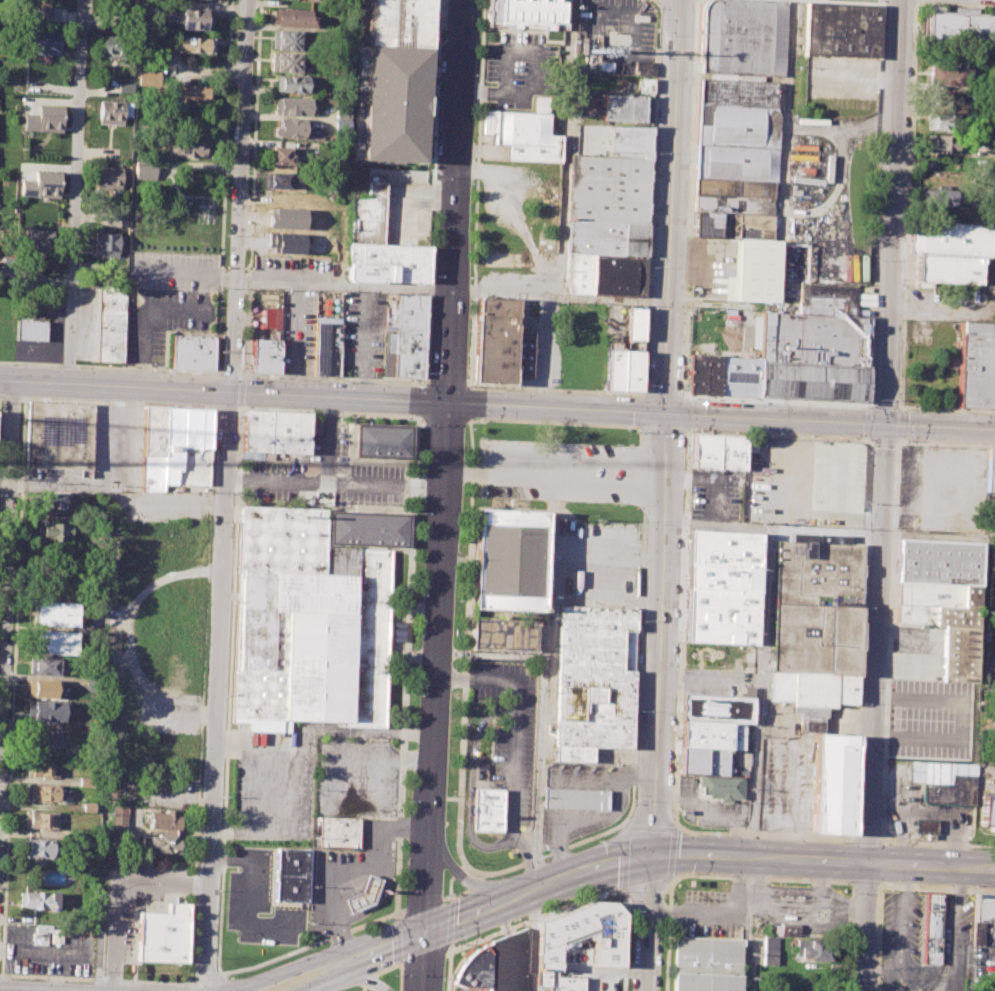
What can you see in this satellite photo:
road: (659, 1)
road: (883, 3)
road: (900, 3)
road: (955, 4)
building: (527, 14)
building: (194, 18)
building: (294, 18)
building: (398, 20)
building: (960, 23)
building: (842, 29)
road: (633, 33)
street lamp: (659, 34)
building: (743, 36)
street lamp: (87, 38)
street lamp: (256, 38)
building: (287, 40)
building: (48, 42)
building: (114, 44)
building: (194, 44)
building: (287, 61)
building: (643, 66)
street lamp: (439, 71)
building: (947, 74)
street lamp: (474, 75)
parking lot: (842, 76)
building: (149, 80)
building: (292, 84)
building: (627, 87)
building: (188, 92)
building: (954, 100)
building: (394, 103)
building: (294, 106)
street lamp: (229, 109)
building: (341, 110)
building: (622, 111)
building: (110, 113)
street lamp: (84, 115)
building: (43, 118)
road: (785, 118)
building: (941, 121)
building: (341, 127)
building: (292, 128)
building: (738, 130)
building: (521, 136)
building: (625, 142)
building: (938, 143)
building: (186, 144)
road: (564, 148)
building: (492, 150)
street lamp: (655, 152)
building: (286, 155)
street lamp: (251, 160)
street lamp: (439, 177)
road: (876, 177)
building: (108, 178)
building: (281, 179)
street lamp: (471, 183)
building: (41, 184)
building: (605, 190)
road: (75, 192)
road: (432, 192)
road: (475, 193)
building: (945, 196)
road: (691, 197)
road: (651, 198)
street lamp: (80, 200)
road: (455, 201)
road: (908, 204)
road: (671, 206)
building: (733, 209)
street lamp: (226, 212)
road: (893, 212)
building: (367, 215)
building: (117, 216)
building: (950, 238)
building: (604, 239)
building: (40, 241)
building: (110, 244)
street lamp: (876, 259)
building: (5, 263)
building: (387, 263)
street lamp: (651, 267)
building: (947, 268)
building: (754, 272)
street lamp: (432, 275)
building: (603, 276)
street lamp: (78, 277)
street lamp: (469, 277)
building: (28, 278)
road: (453, 291)
street lamp: (244, 294)
building: (827, 299)
parking lot: (168, 304)
road: (167, 308)
building: (406, 311)
road: (966, 315)
building: (110, 321)
building: (635, 323)
building: (31, 330)
parking lot: (364, 335)
building: (501, 344)
building: (634, 345)
street lamp: (902, 345)
building: (328, 346)
road: (37, 350)
building: (409, 350)
building: (193, 352)
road: (544, 352)
building: (265, 356)
building: (814, 356)
road: (31, 362)
street lamp: (12, 363)
road: (67, 364)
building: (975, 364)
street lamp: (55, 366)
road: (147, 368)
street lamp: (221, 368)
street lamp: (242, 368)
building: (615, 370)
street lamp: (154, 371)
building: (632, 371)
street lamp: (427, 372)
road: (230, 373)
building: (703, 373)
street lamp: (247, 376)
building: (739, 376)
road: (333, 378)
street lamp: (346, 381)
road: (447, 383)
street lamp: (647, 383)
street lamp: (418, 384)
street lamp: (473, 384)
street lamp: (500, 388)
road: (555, 389)
building: (992, 389)
street lamp: (900, 392)
street lamp: (600, 393)
road: (1, 395)
road: (11, 396)
road: (776, 400)
road: (424, 401)
road: (682, 401)
street lamp: (760, 401)
street lamp: (2, 402)
road: (117, 402)
road: (442, 402)
traffic signals: (447, 403)
road: (884, 405)
road: (226, 407)
street lamp: (860, 407)
road: (946, 409)
road: (330, 411)
street lamp: (965, 412)
traffic signals: (667, 414)
street lamp: (239, 416)
road: (460, 418)
street lamp: (482, 418)
road: (554, 421)
road: (868, 421)
street lamp: (423, 424)
road: (900, 424)
traffic signals: (886, 425)
road: (638, 426)
road: (940, 427)
street lamp: (473, 428)
building: (275, 431)
street lamp: (637, 431)
building: (59, 435)
street lamp: (480, 435)
road: (639, 435)
road: (778, 435)
road: (330, 437)
road: (869, 438)
road: (899, 439)
road: (883, 440)
building: (383, 441)
street lamp: (616, 441)
road: (945, 443)
building: (175, 447)
building: (718, 452)
street lamp: (871, 453)
road: (555, 467)
parking lot: (555, 470)
building: (990, 471)
road: (642, 476)
road: (335, 477)
road: (711, 481)
parking lot: (815, 483)
road: (63, 488)
parking lot: (716, 494)
road: (224, 495)
road: (457, 495)
street lamp: (478, 498)
building: (51, 500)
street lamp: (619, 505)
street lamp: (645, 523)
building: (53, 529)
building: (369, 529)
road: (824, 530)
building: (280, 539)
building: (722, 547)
building: (508, 560)
road: (7, 562)
building: (939, 562)
parking lot: (593, 564)
building: (721, 576)
building: (938, 604)
building: (51, 612)
building: (719, 615)
building: (814, 620)
road: (681, 628)
building: (503, 633)
road: (861, 639)
building: (313, 640)
road: (889, 640)
building: (50, 641)
road: (761, 641)
road: (876, 643)
parking lot: (918, 652)
building: (960, 654)
road: (406, 663)
building: (43, 665)
road: (435, 668)
road: (544, 678)
building: (593, 680)
parking lot: (719, 683)
building: (43, 688)
road: (108, 689)
road: (657, 702)
building: (717, 708)
building: (47, 711)
parking lot: (510, 730)
building: (711, 734)
building: (43, 738)
road: (516, 750)
road: (359, 757)
building: (703, 760)
building: (41, 768)
parking lot: (785, 771)
building: (83, 782)
building: (831, 783)
building: (722, 786)
road: (255, 787)
building: (949, 791)
building: (40, 792)
building: (574, 799)
street lamp: (635, 800)
parking lot: (709, 806)
building: (488, 809)
building: (987, 811)
building: (118, 818)
building: (39, 819)
building: (163, 819)
road: (622, 823)
road: (650, 826)
building: (925, 826)
building: (340, 831)
building: (66, 833)
street lamp: (699, 833)
road: (765, 834)
road: (867, 839)
street lamp: (841, 841)
building: (116, 843)
building: (163, 843)
road: (937, 843)
building: (36, 847)
street lamp: (976, 847)
road: (671, 853)
traffic signals: (652, 854)
road: (638, 856)
road: (624, 858)
road: (463, 866)
road: (930, 866)
road: (480, 871)
road: (353, 872)
road: (457, 872)
street lamp: (697, 872)
building: (291, 875)
street lamp: (502, 876)
road: (759, 876)
road: (467, 880)
street lamp: (841, 880)
road: (865, 882)
road: (645, 885)
road: (937, 885)
street lamp: (975, 886)
road: (117, 888)
road: (449, 888)
street lamp: (404, 890)
street lamp: (605, 890)
street lamp: (452, 893)
street lamp: (853, 894)
building: (363, 895)
gas station: (363, 895)
building: (35, 900)
road: (248, 901)
road: (375, 902)
road: (423, 903)
parking lot: (802, 906)
street lamp: (631, 911)
parking lot: (710, 914)
road: (698, 915)
building: (982, 915)
road: (396, 916)
road: (533, 918)
street lamp: (385, 920)
street lamp: (512, 920)
road: (748, 924)
road: (864, 926)
road: (902, 928)
building: (933, 928)
road: (952, 929)
building: (786, 930)
traffic signals: (423, 933)
building: (163, 934)
road: (667, 935)
road: (847, 936)
road: (877, 936)
building: (40, 937)
building: (580, 937)
road: (626, 940)
road: (397, 941)
road: (532, 941)
road: (313, 944)
road: (386, 946)
street lamp: (456, 948)
street lamp: (313, 950)
building: (770, 950)
building: (817, 951)
road: (424, 957)
road: (421, 962)
building: (704, 963)
road: (401, 966)
building: (496, 966)
road: (289, 969)
road: (385, 969)
road: (882, 970)
road: (448, 971)
street lamp: (849, 973)
street lamp: (236, 975)
street lamp: (395, 975)
road: (399, 975)
road: (361, 976)
street lamp: (9, 977)
street lamp: (444, 978)
road: (96, 979)
road: (206, 979)
road: (326, 980)
road: (367, 980)
street lamp: (135, 984)
road: (363, 988)
road: (299, 990)

